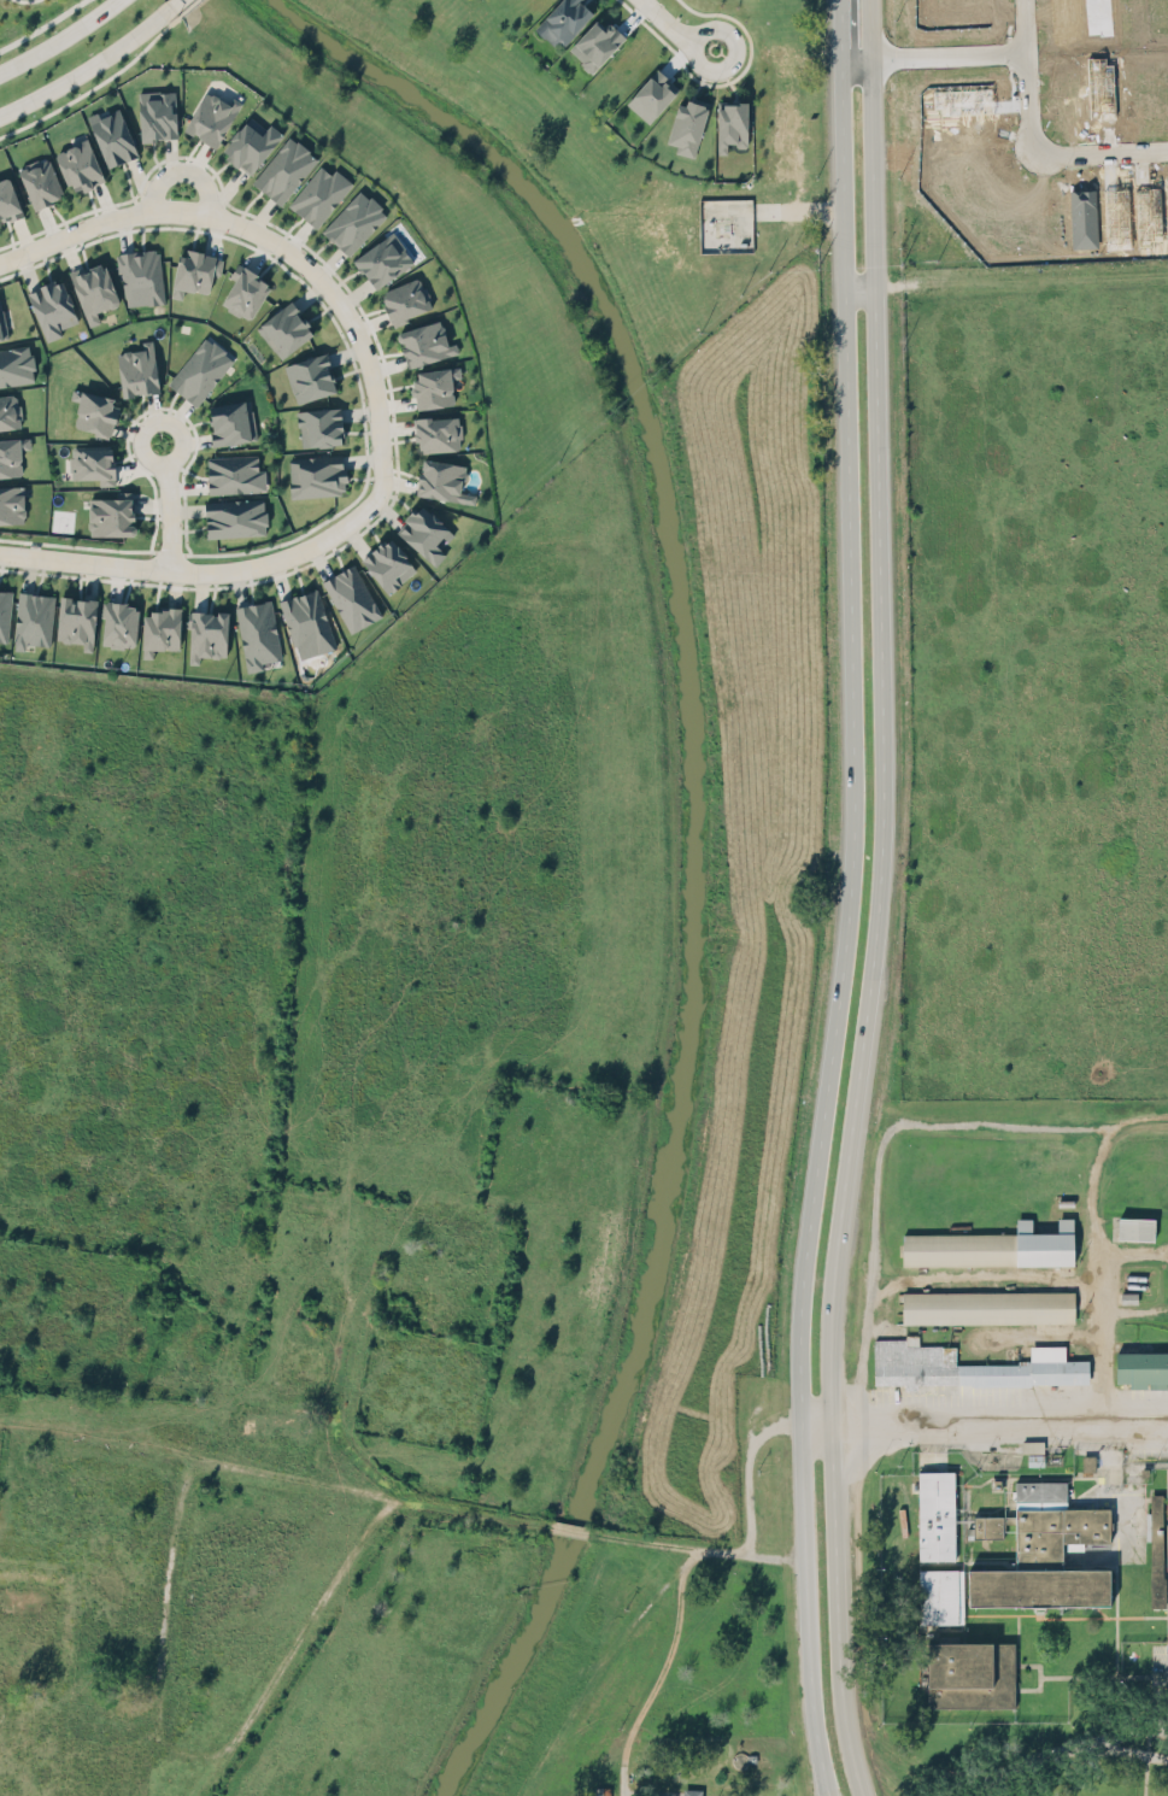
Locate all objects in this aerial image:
road: (14, 1)
road: (171, 7)
road: (180, 12)
building: (564, 20)
road: (41, 25)
road: (1021, 25)
road: (674, 29)
road: (59, 39)
building: (595, 43)
road: (931, 55)
road: (84, 70)
road: (724, 81)
road: (88, 88)
building: (652, 95)
building: (153, 110)
building: (206, 116)
building: (732, 124)
building: (687, 125)
building: (110, 133)
building: (242, 140)
road: (166, 154)
road: (1047, 157)
building: (76, 159)
road: (199, 160)
building: (281, 169)
road: (182, 171)
road: (140, 176)
building: (36, 181)
road: (223, 184)
building: (315, 192)
building: (5, 198)
road: (101, 199)
road: (260, 213)
building: (348, 218)
road: (45, 222)
road: (20, 229)
road: (294, 235)
road: (123, 237)
road: (206, 239)
road: (272, 242)
road: (254, 254)
road: (69, 256)
building: (380, 256)
road: (327, 262)
road: (24, 271)
road: (7, 272)
road: (1022, 272)
building: (190, 277)
road: (859, 282)
building: (136, 283)
road: (354, 290)
building: (237, 292)
building: (93, 295)
building: (400, 297)
road: (310, 298)
building: (47, 310)
road: (369, 323)
road: (336, 324)
building: (284, 330)
building: (1, 339)
building: (421, 341)
road: (342, 358)
building: (133, 362)
road: (386, 363)
building: (13, 368)
building: (196, 369)
building: (304, 381)
road: (391, 381)
building: (429, 387)
road: (394, 401)
building: (93, 404)
road: (141, 405)
road: (155, 407)
road: (178, 409)
building: (7, 416)
road: (371, 416)
building: (227, 419)
road: (350, 419)
road: (125, 428)
building: (313, 429)
road: (395, 430)
building: (435, 430)
road: (183, 439)
road: (195, 440)
road: (140, 441)
building: (88, 459)
building: (10, 462)
road: (146, 464)
road: (359, 464)
road: (127, 469)
building: (233, 469)
building: (309, 474)
building: (438, 477)
road: (395, 479)
road: (187, 483)
building: (12, 507)
road: (147, 507)
road: (176, 507)
road: (192, 507)
road: (183, 510)
building: (104, 511)
building: (231, 511)
road: (157, 512)
road: (394, 512)
road: (170, 516)
road: (357, 533)
building: (422, 533)
road: (76, 542)
road: (169, 550)
road: (321, 558)
building: (383, 564)
road: (27, 573)
road: (201, 573)
road: (72, 577)
road: (275, 577)
road: (115, 582)
road: (165, 586)
road: (235, 586)
road: (199, 588)
building: (350, 597)
building: (2, 616)
building: (30, 617)
building: (70, 618)
building: (305, 620)
building: (112, 623)
building: (158, 627)
building: (204, 632)
building: (257, 633)
river: (698, 835)
road: (852, 900)
road: (879, 900)
road: (1010, 1121)
building: (1135, 1227)
building: (991, 1245)
road: (1099, 1273)
building: (987, 1305)
building: (969, 1366)
building: (1141, 1368)
road: (1000, 1425)
road: (816, 1430)
building: (1033, 1451)
building: (1087, 1462)
road: (747, 1469)
road: (274, 1475)
building: (935, 1515)
building: (988, 1525)
road: (568, 1528)
road: (694, 1549)
building: (1156, 1549)
building: (1046, 1553)
building: (940, 1596)
road: (163, 1631)
road: (293, 1636)
building: (969, 1673)
road: (668, 1674)
road: (1120, 1735)
road: (1060, 1749)
building: (691, 1791)

